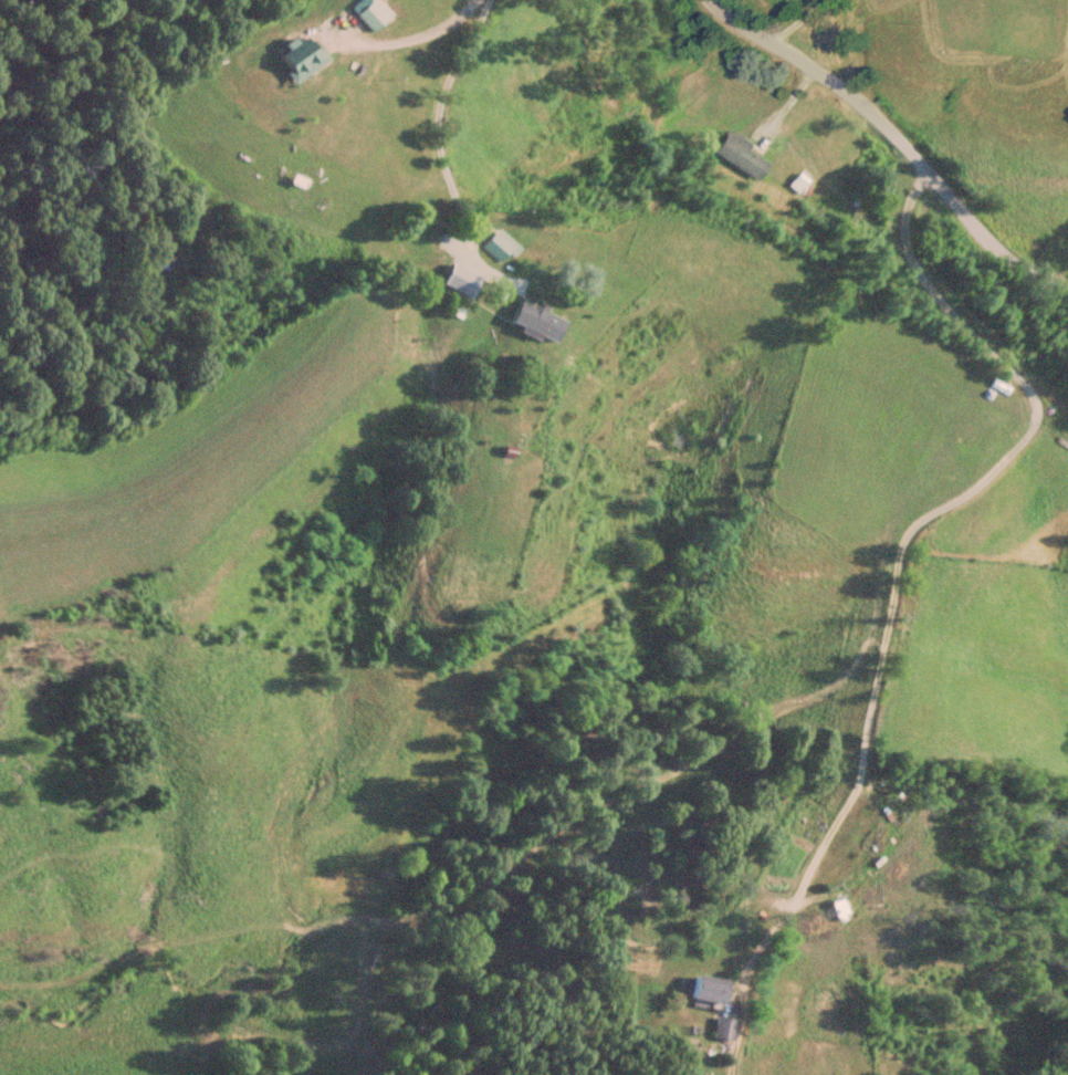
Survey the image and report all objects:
road: (416, 38)
road: (436, 145)
road: (892, 146)
road: (903, 539)

